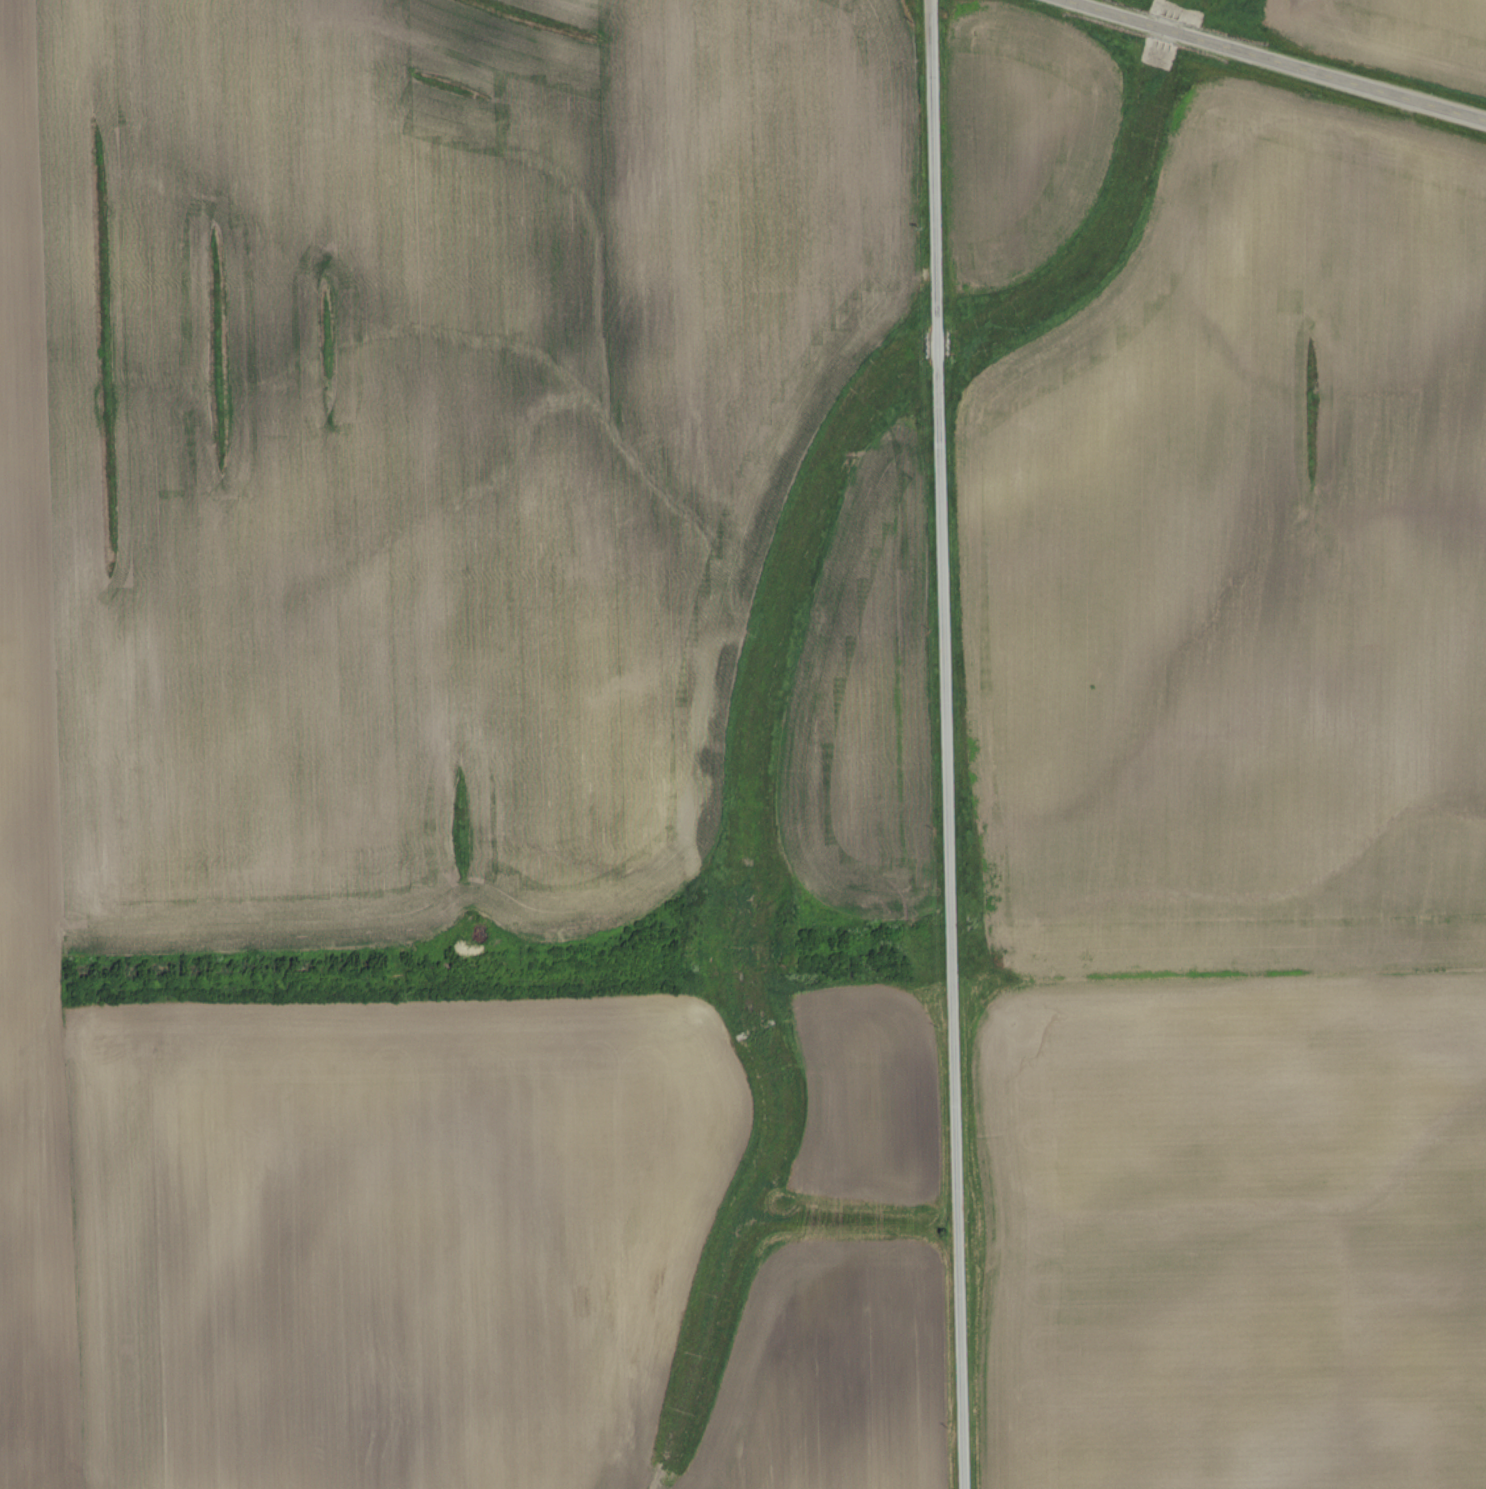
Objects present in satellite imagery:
crop: (1393, 35)
road: (1276, 61)
crop: (1023, 136)
crop: (860, 701)
crop: (411, 722)
road: (945, 744)
crop: (1239, 825)
crop: (870, 1095)

